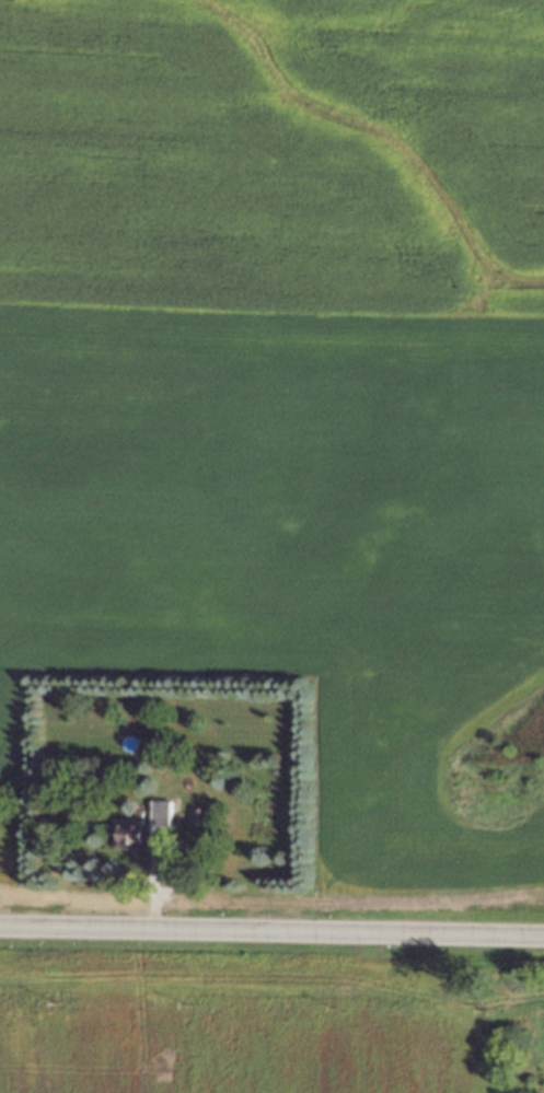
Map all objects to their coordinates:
building: (198, 815)
building: (130, 834)
road: (271, 931)

